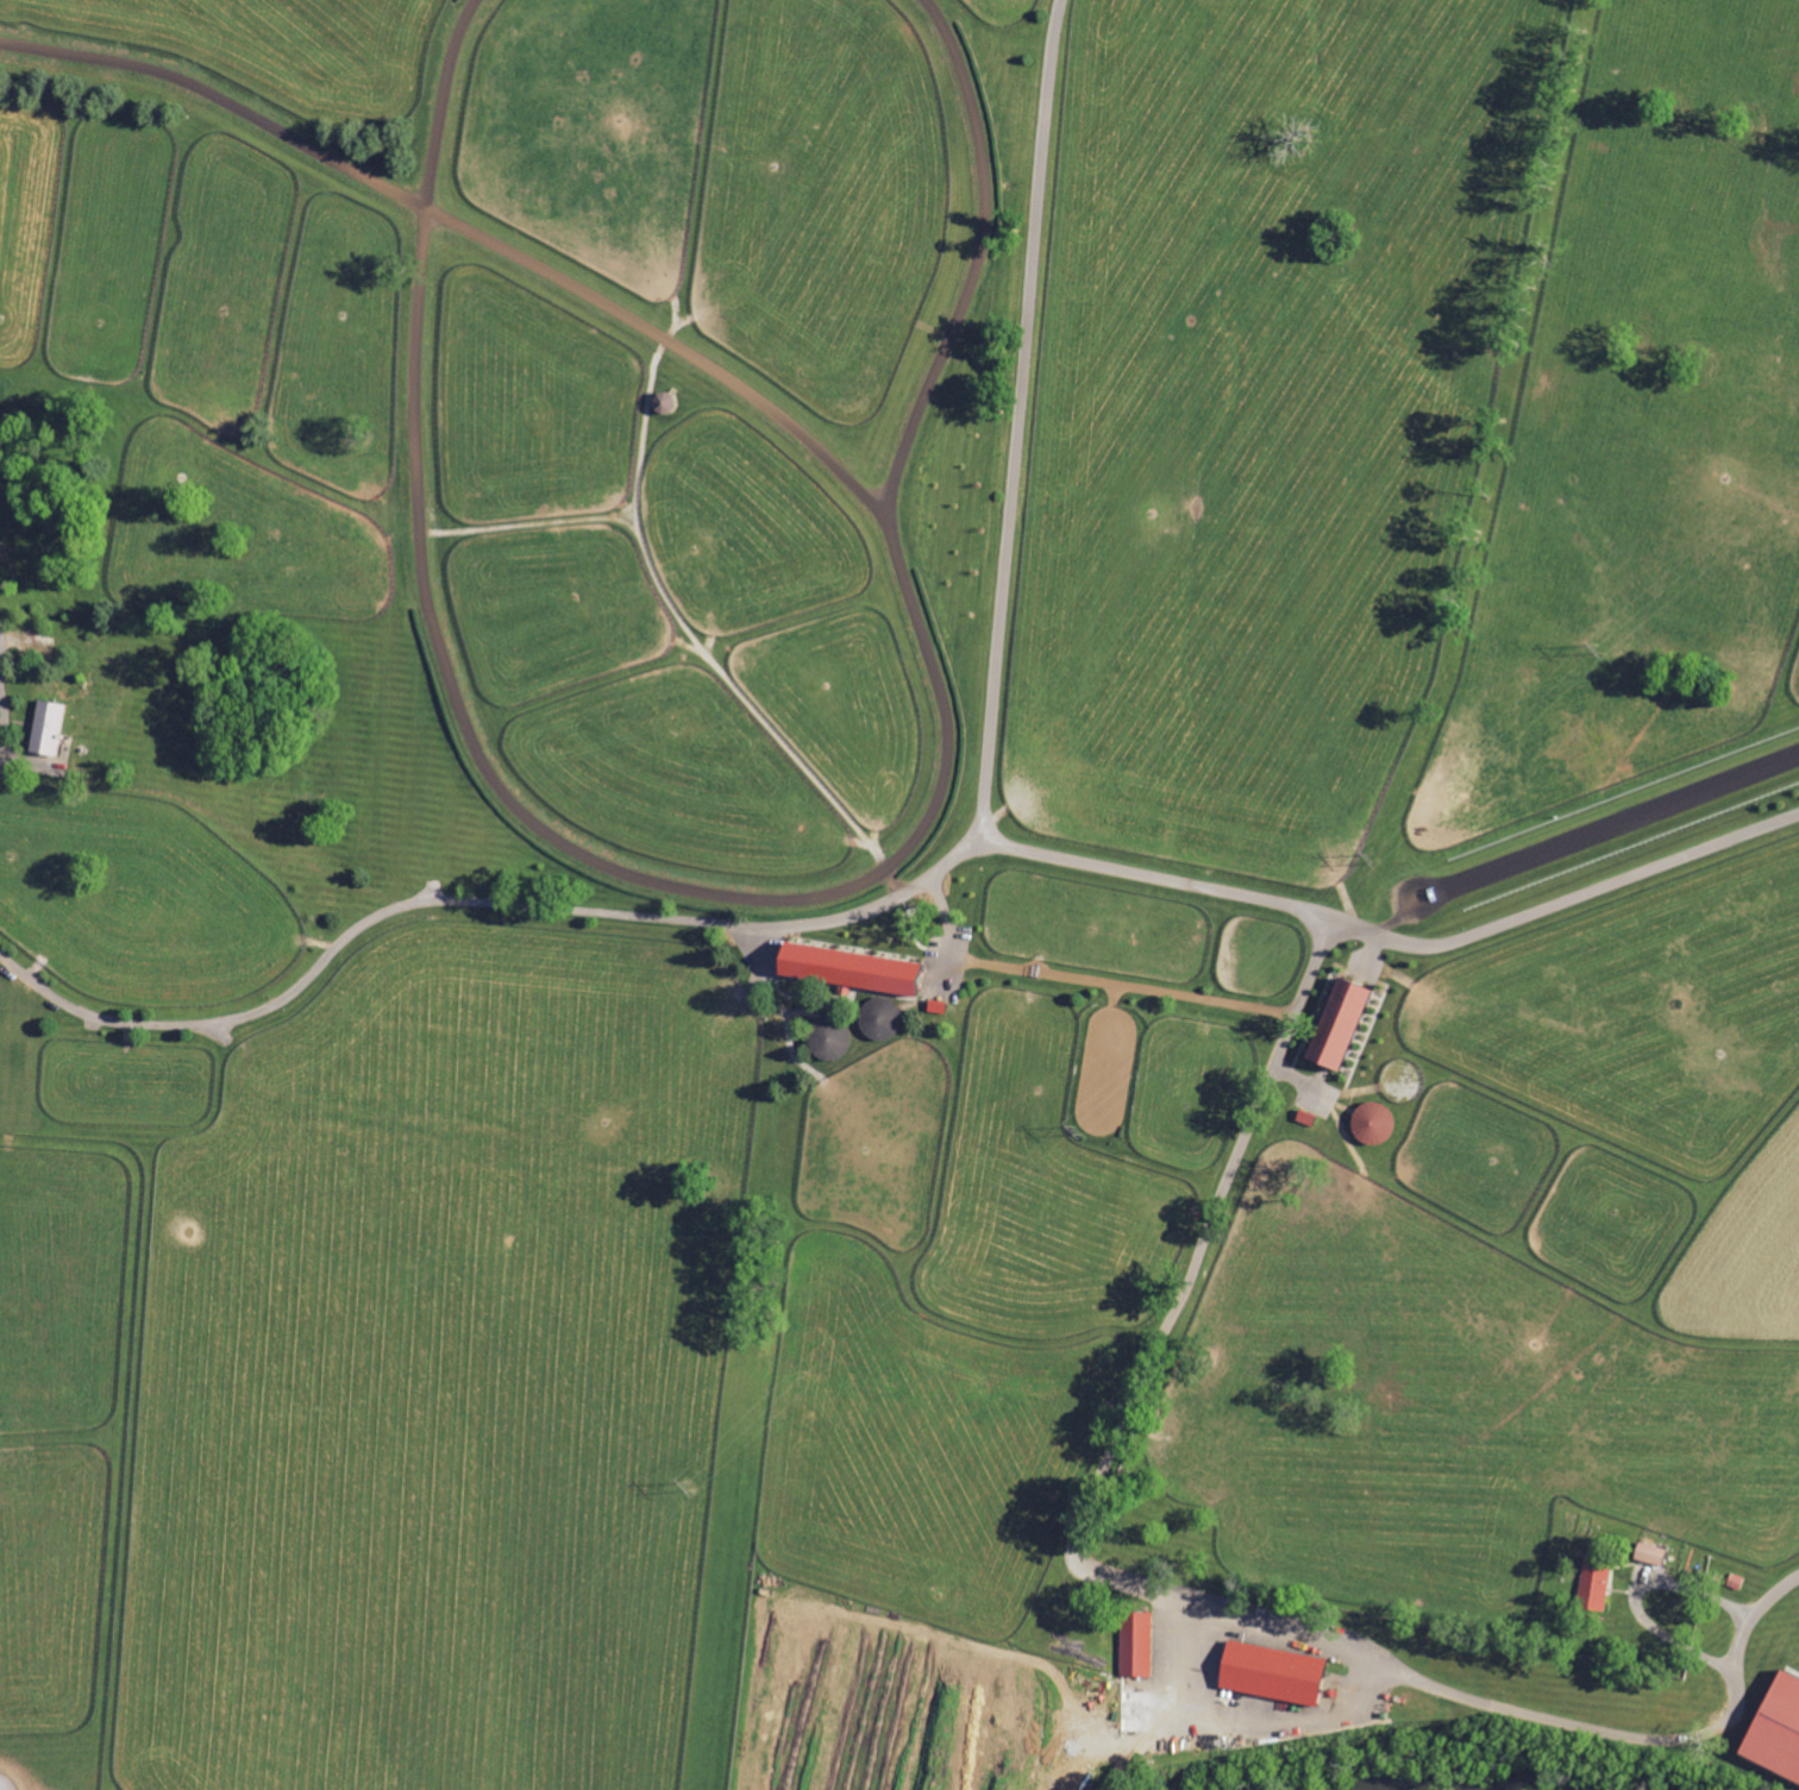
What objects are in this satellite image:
road: (1015, 421)
power tower: (1600, 648)
road: (2, 664)
building: (45, 728)
power tower: (1374, 858)
road: (1283, 903)
road: (602, 913)
building: (847, 967)
building: (936, 1006)
building: (1336, 1023)
power tower: (1077, 1131)
power tower: (689, 1484)
building: (1648, 1552)
road: (1132, 1570)
road: (1653, 1579)
building: (1591, 1587)
road: (1767, 1596)
building: (1134, 1644)
building: (1271, 1671)
road: (1237, 1720)
building: (1775, 1728)

